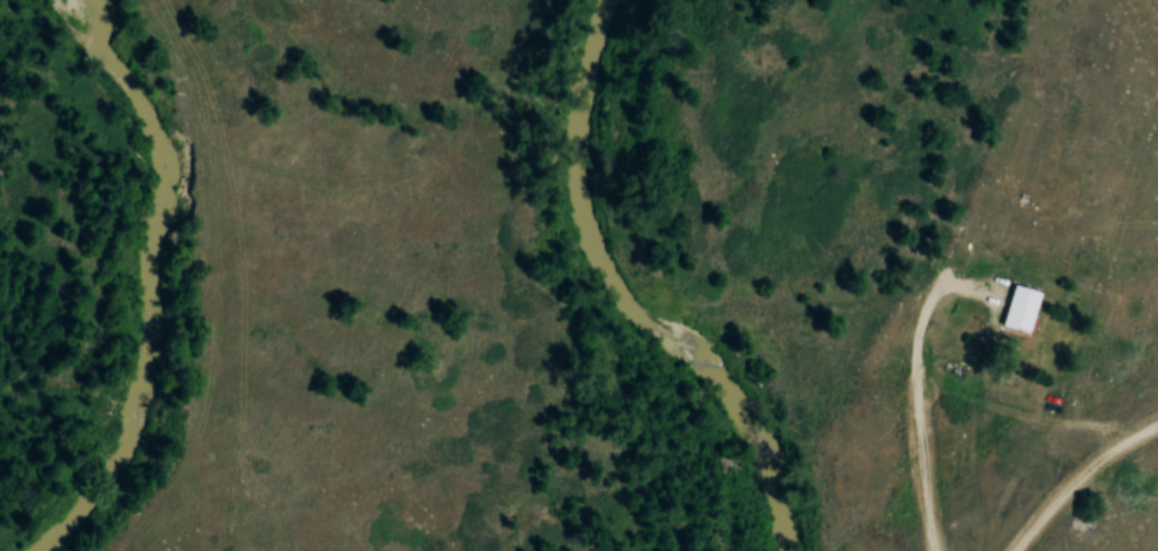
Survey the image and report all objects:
river: (149, 277)
river: (622, 300)
building: (1019, 308)
road: (913, 412)
road: (1079, 484)

